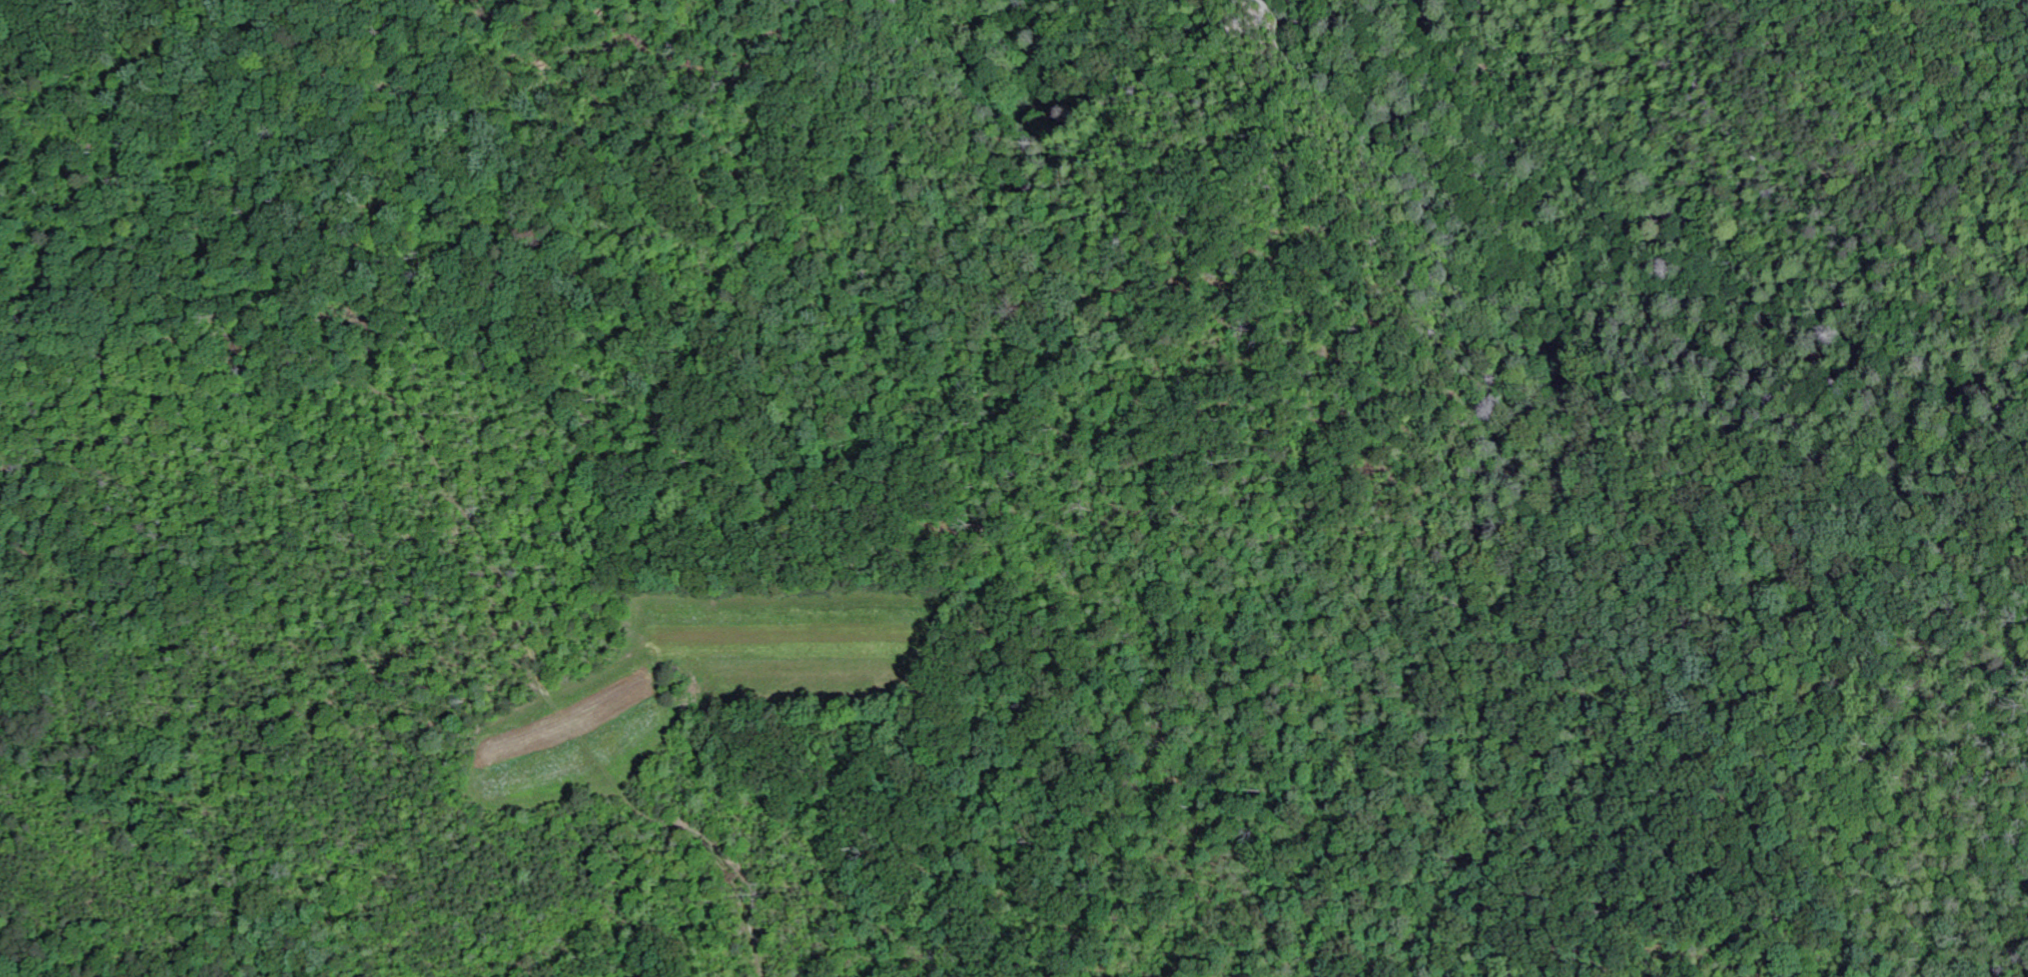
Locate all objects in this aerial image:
park: (1396, 149)

